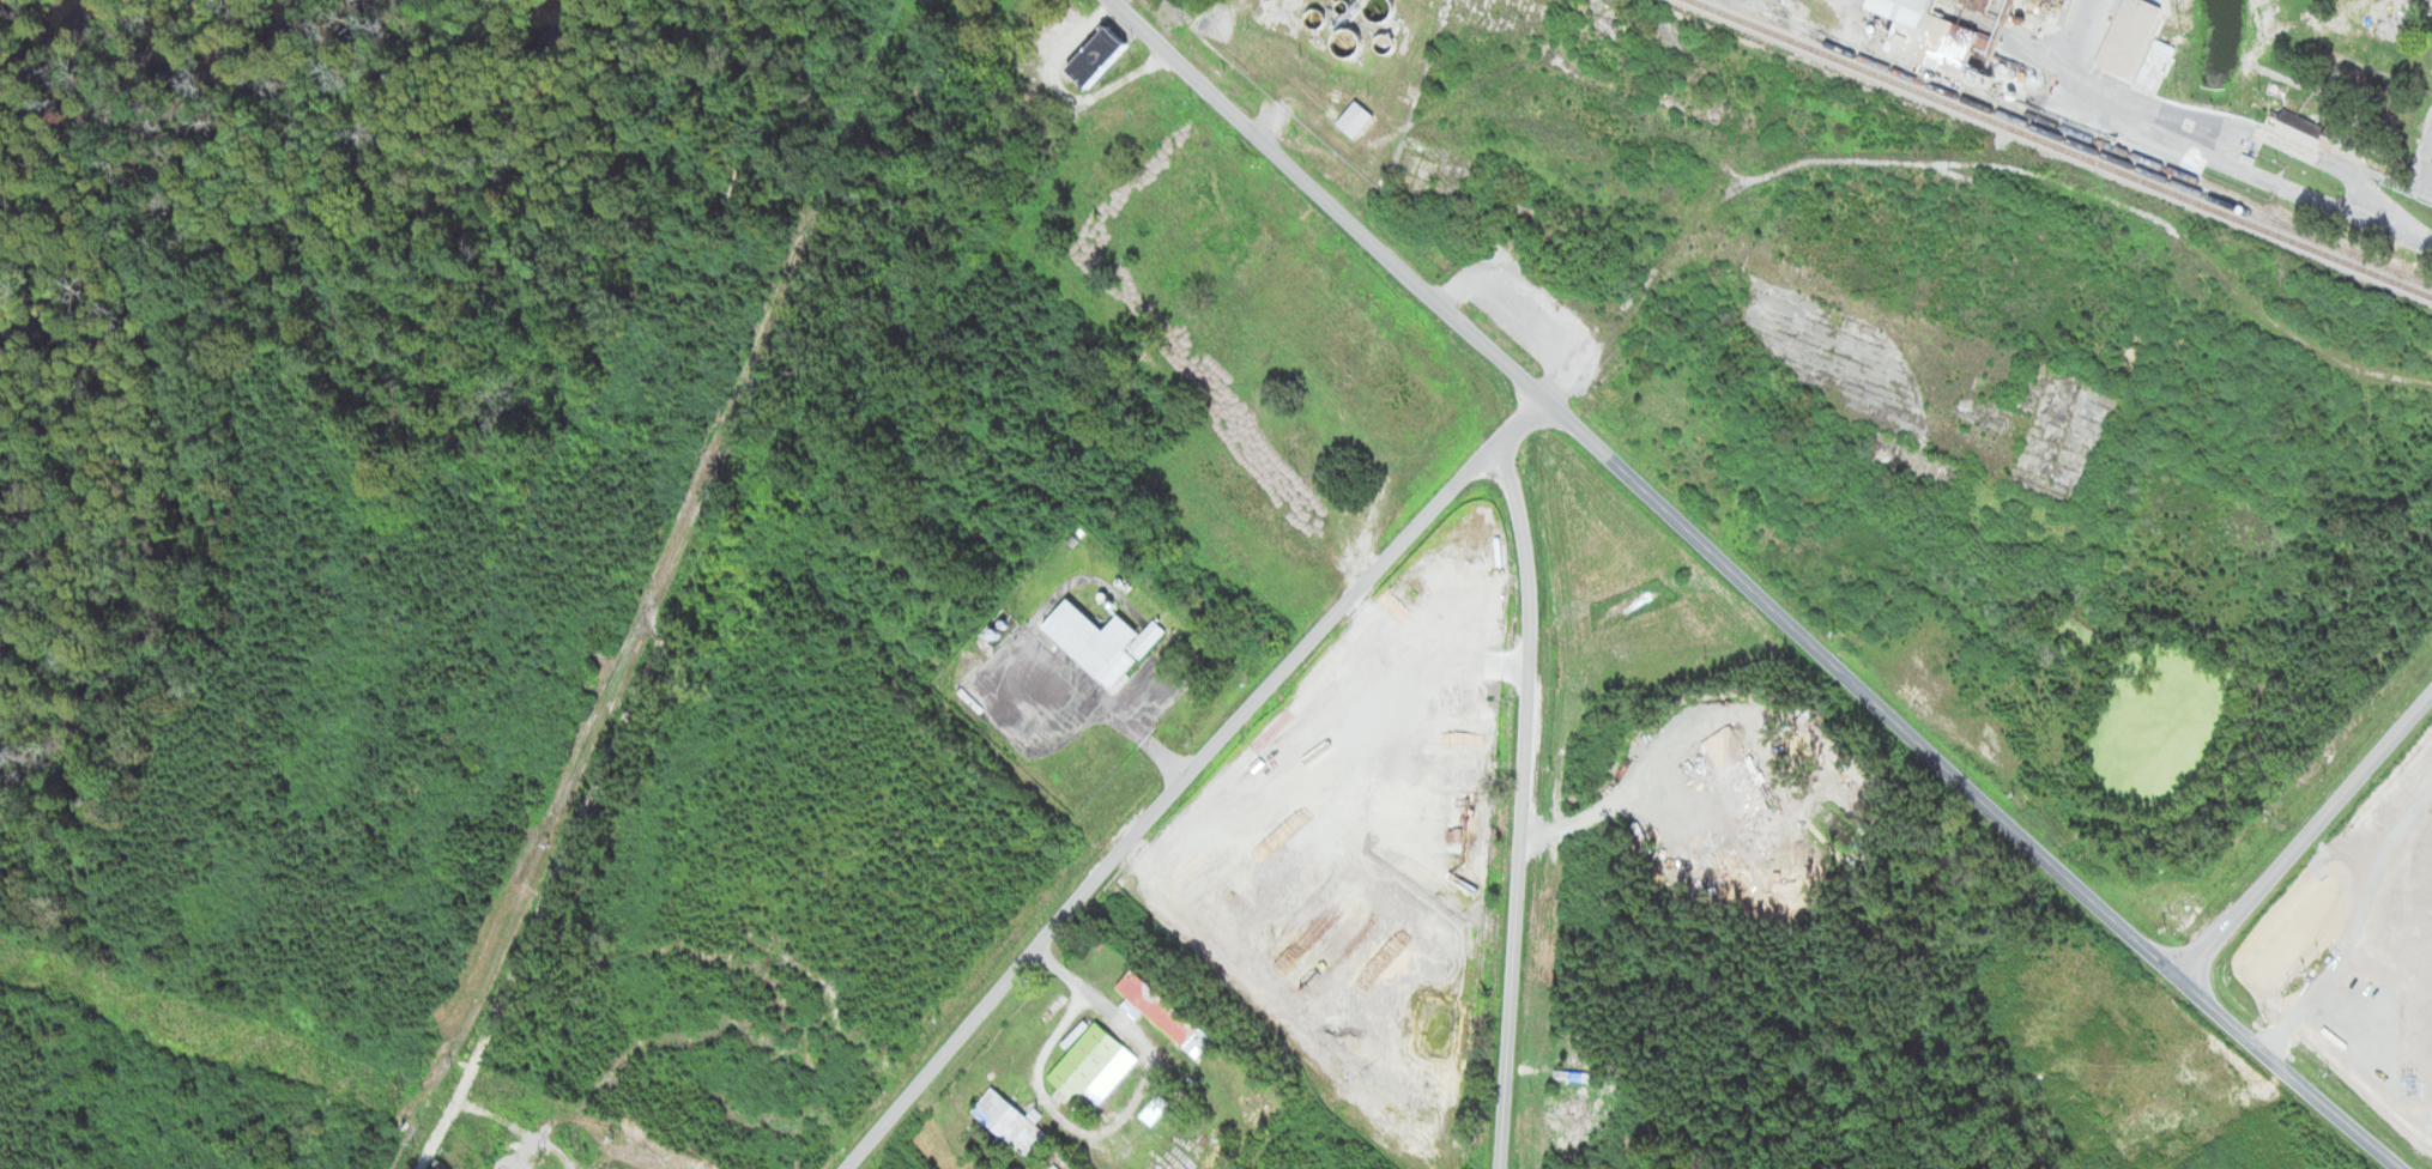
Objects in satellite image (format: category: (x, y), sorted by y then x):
building: (1374, 8)
building: (1924, 34)
building: (2127, 36)
building: (1343, 41)
building: (1093, 57)
building: (2152, 62)
building: (1351, 119)
building: (2318, 134)
railway: (2063, 147)
road: (1332, 200)
building: (1099, 641)
road: (1184, 774)
road: (1976, 787)
road: (1520, 801)
road: (2310, 829)
building: (1160, 1012)
building: (1084, 1064)
power tower: (399, 1089)
building: (1009, 1122)
power tower: (545, 1155)

